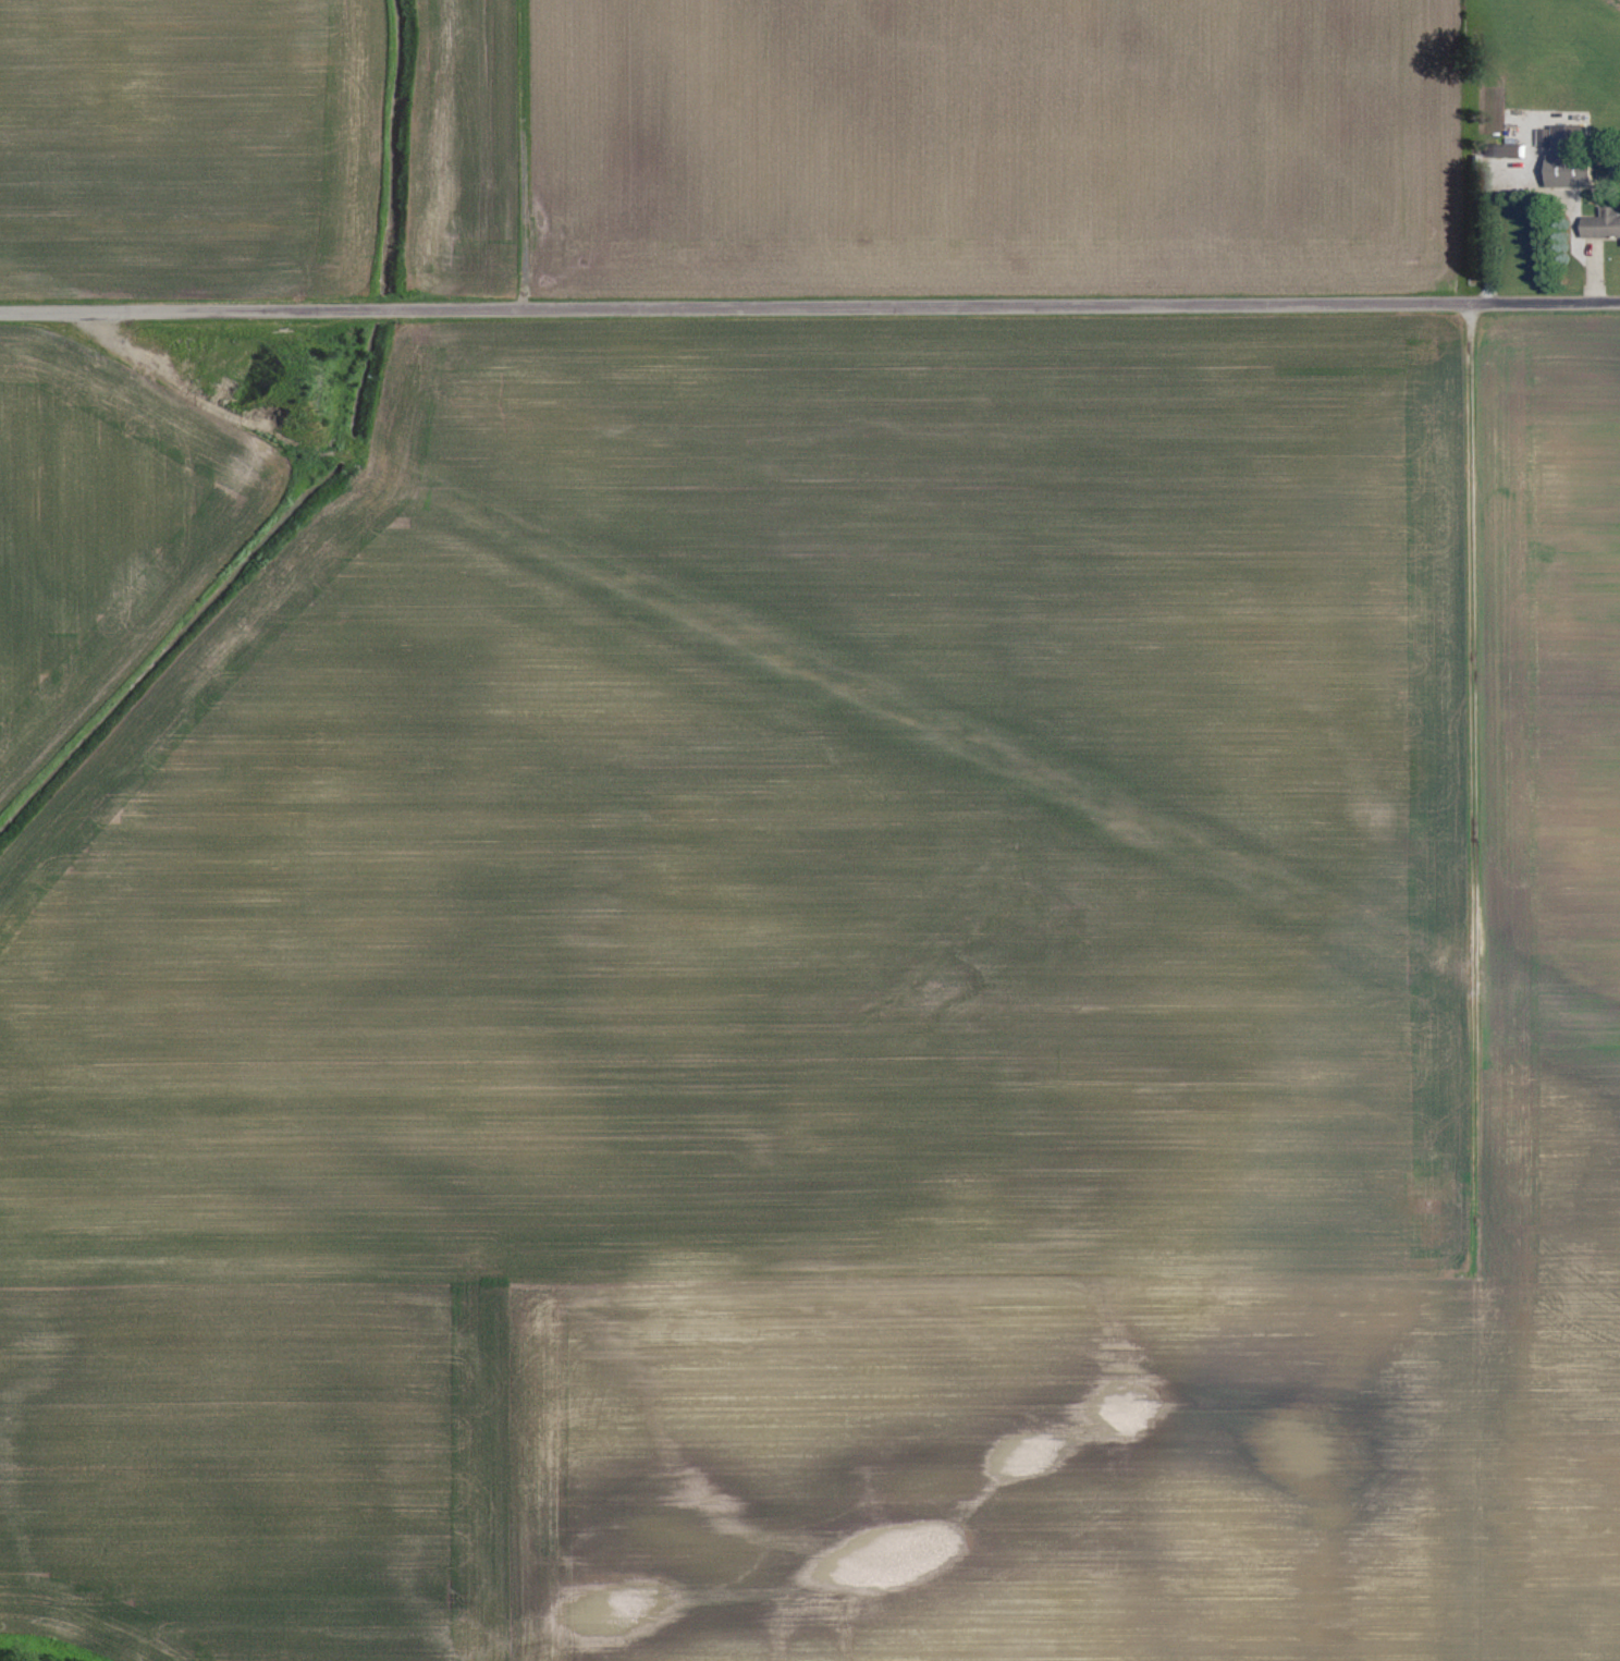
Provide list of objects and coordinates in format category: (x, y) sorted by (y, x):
building: (1512, 150)
building: (1575, 170)
building: (1605, 222)
road: (809, 304)

